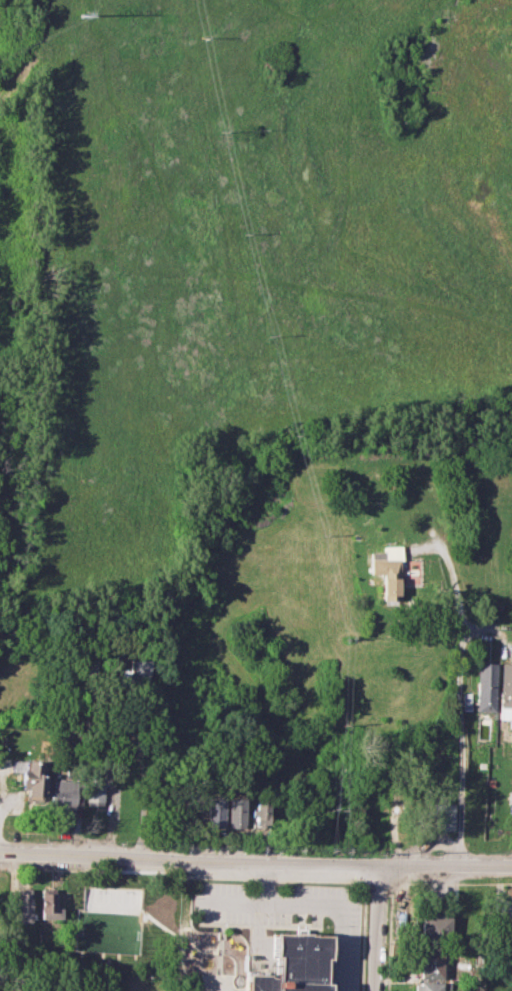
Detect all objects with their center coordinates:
power tower: (83, 13)
building: (388, 572)
building: (134, 672)
building: (487, 687)
building: (506, 692)
road: (457, 696)
building: (31, 778)
building: (66, 792)
building: (94, 795)
building: (215, 812)
building: (236, 812)
building: (260, 814)
building: (444, 816)
road: (255, 862)
road: (326, 900)
building: (49, 904)
building: (22, 905)
building: (502, 907)
building: (434, 925)
road: (378, 928)
building: (291, 964)
building: (430, 964)
building: (426, 986)
building: (202, 990)

